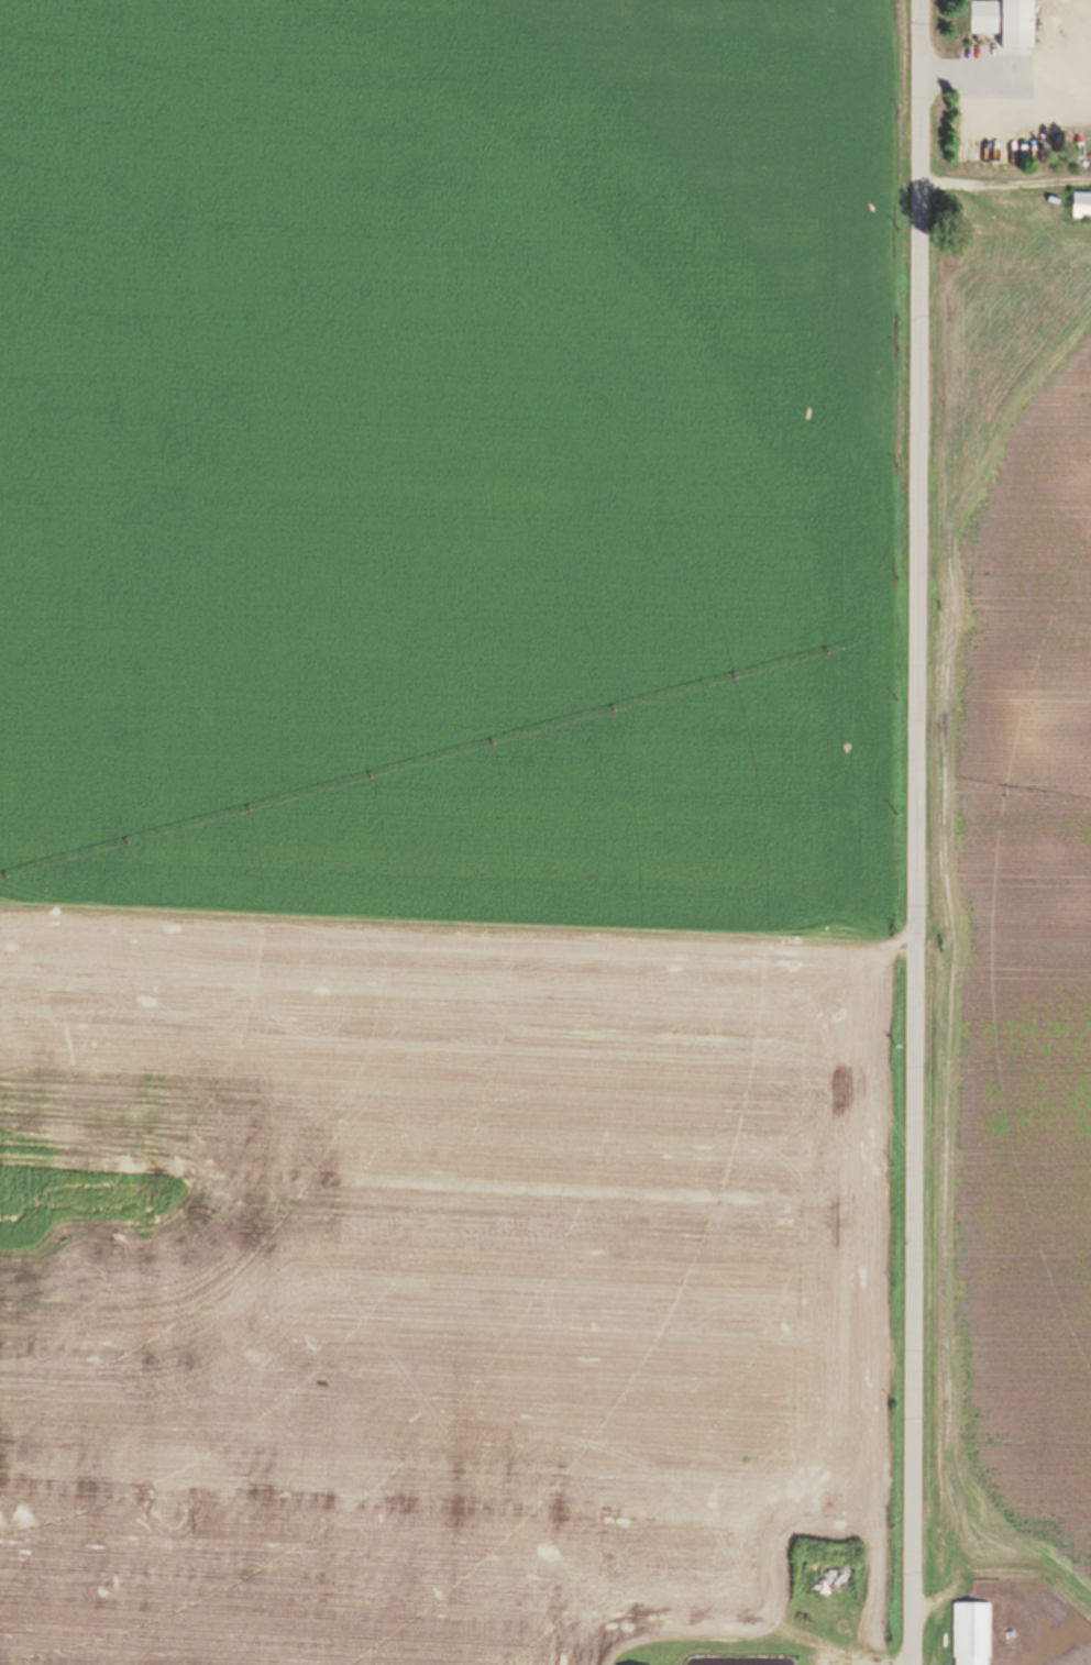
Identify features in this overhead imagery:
building: (1006, 23)
building: (1082, 207)
road: (917, 831)
building: (971, 1634)
building: (1012, 1636)

